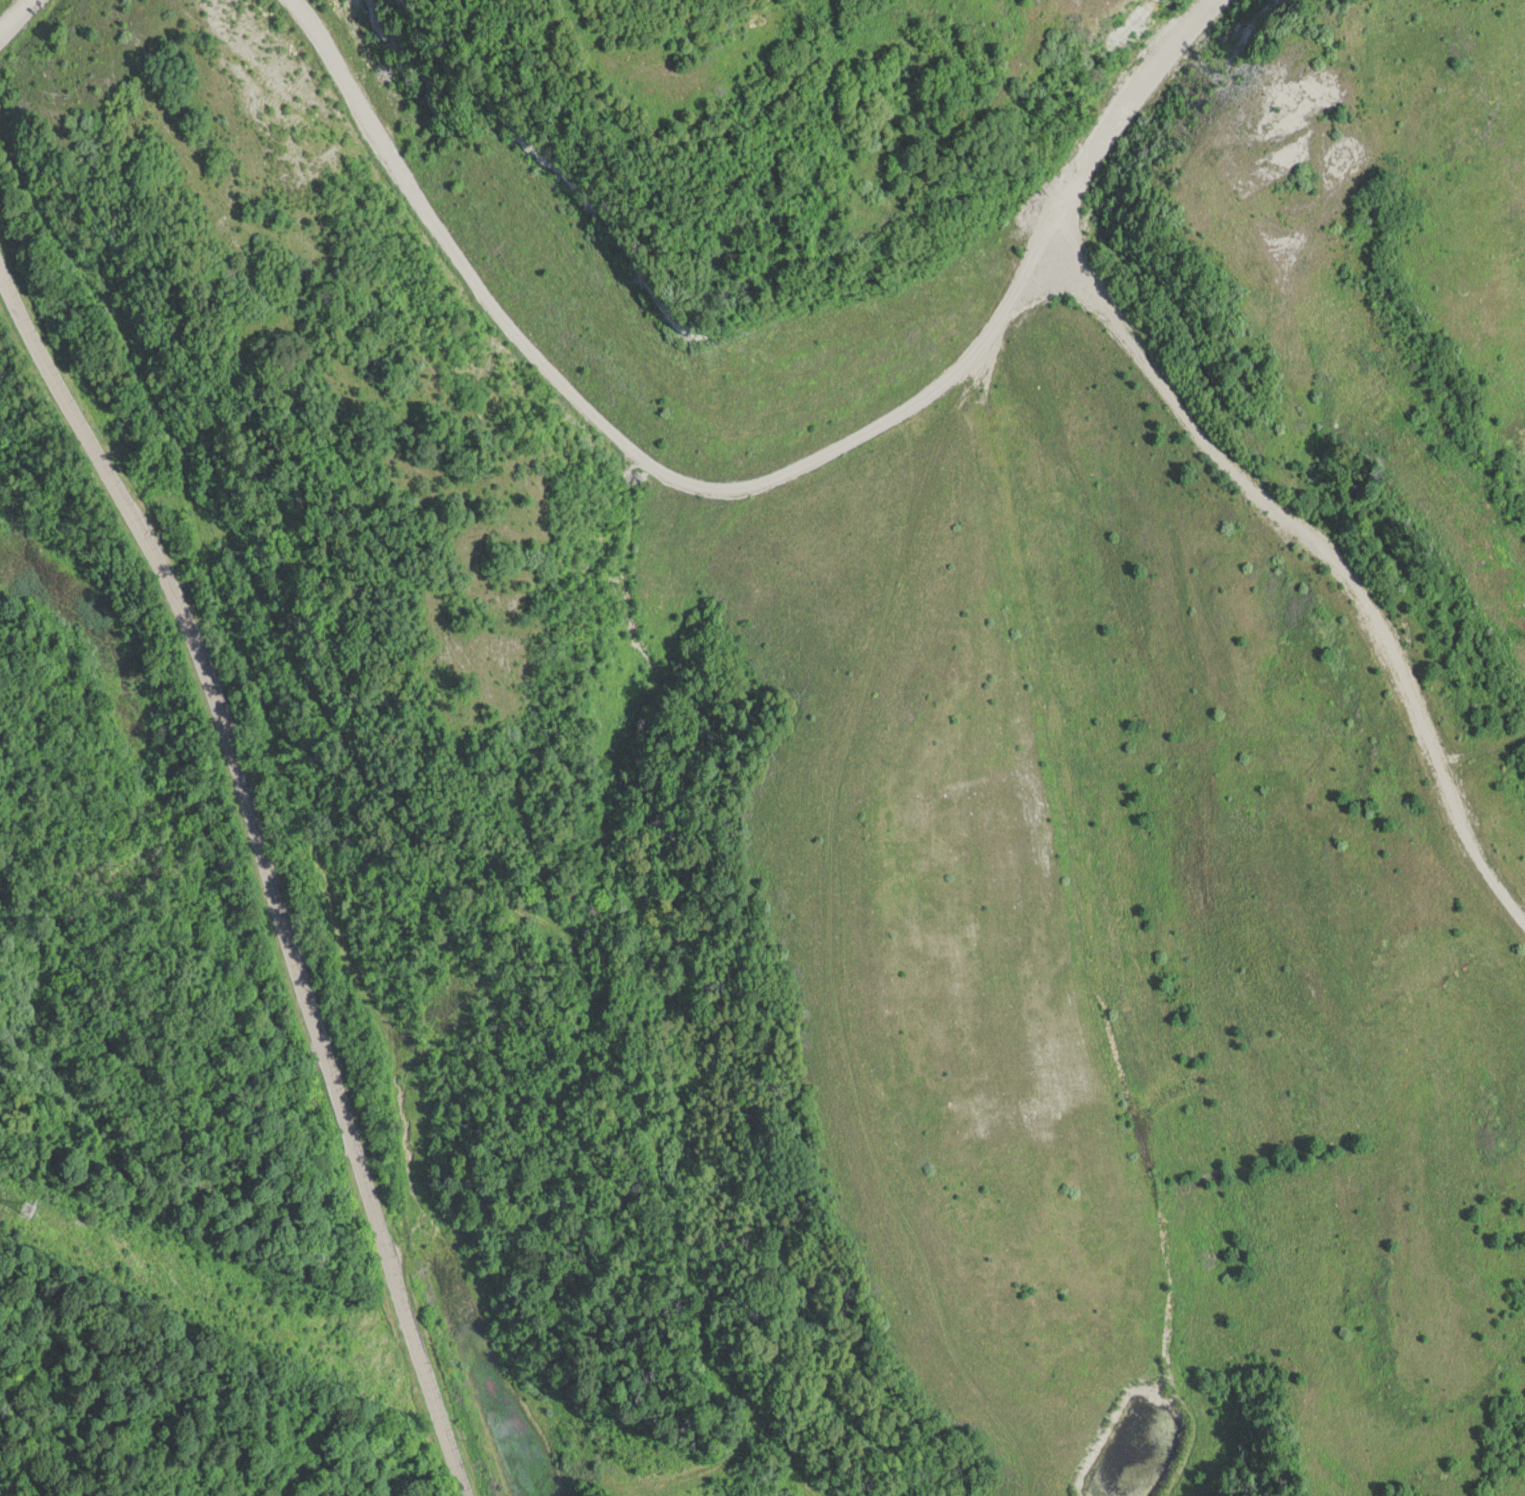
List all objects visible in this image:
building: (1155, 46)
road: (268, 864)
power tower: (28, 1202)

